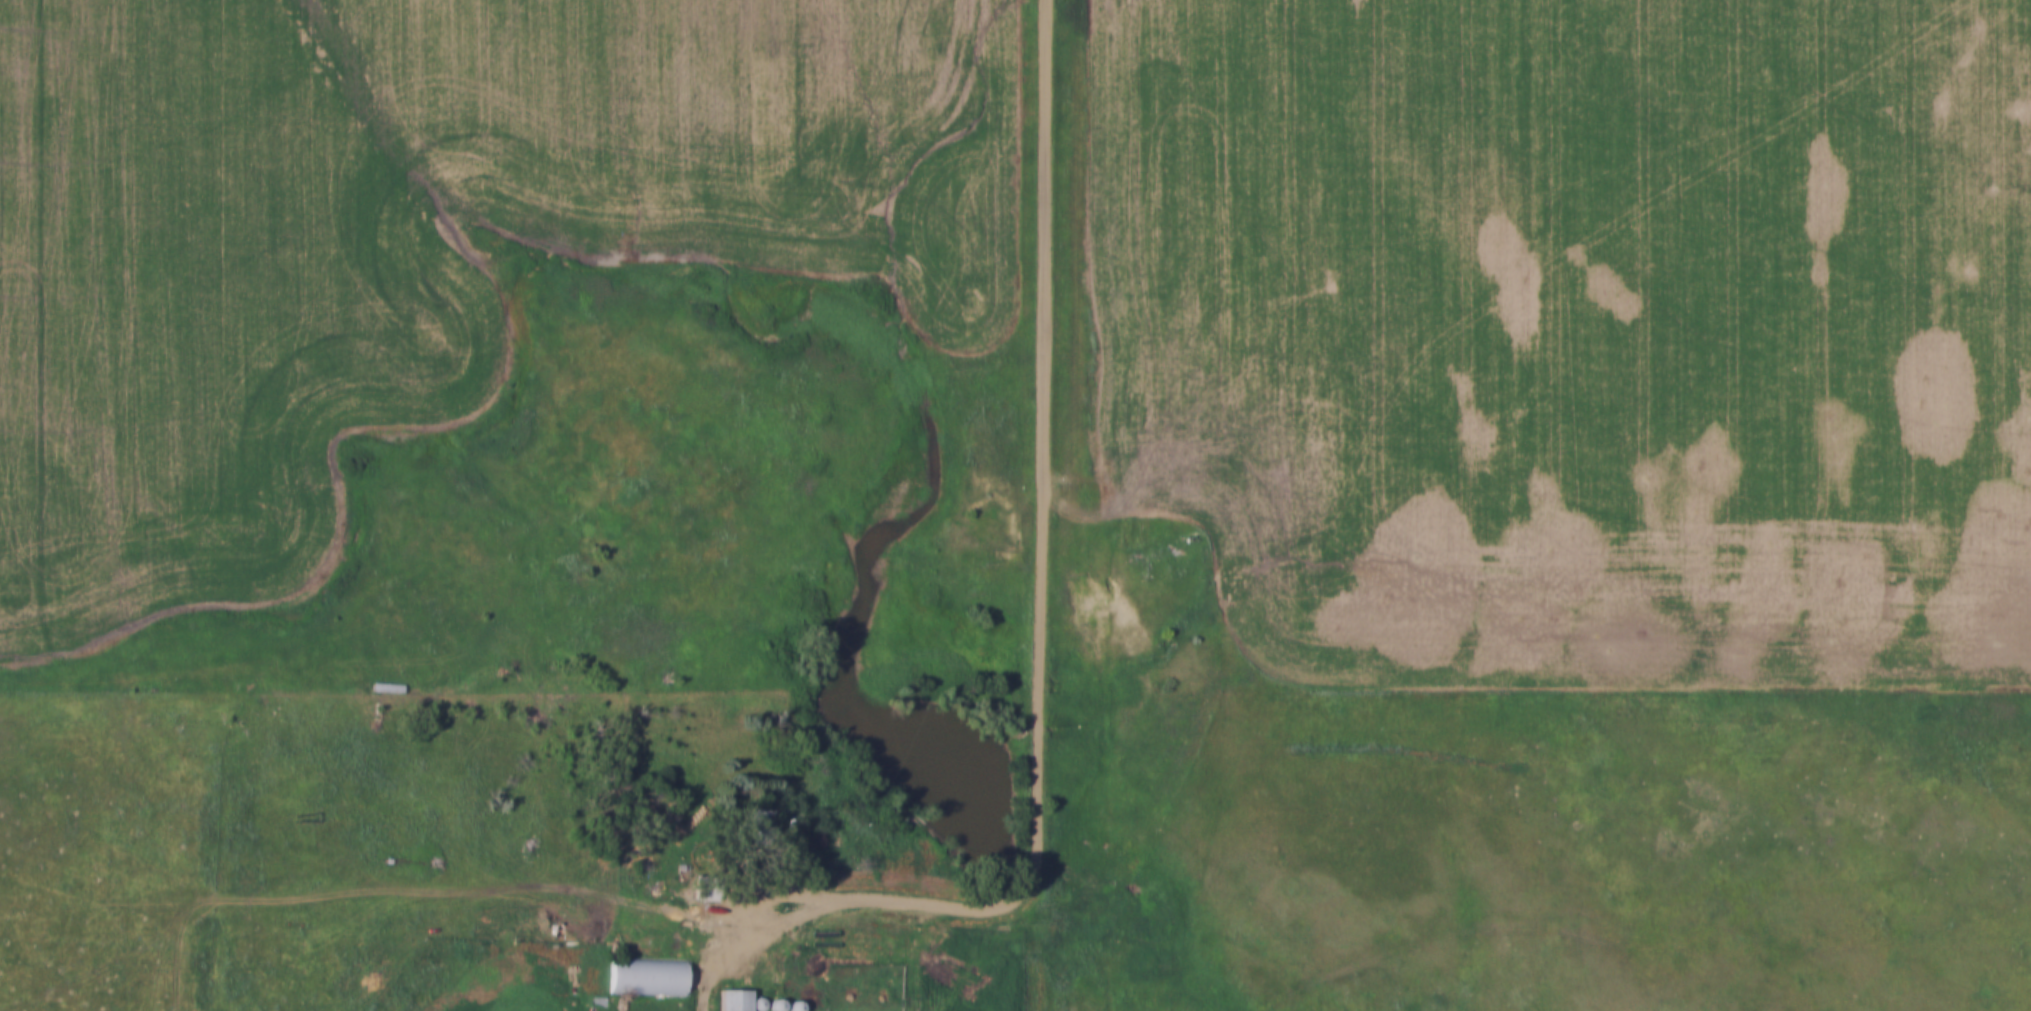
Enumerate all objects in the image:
crop: (1622, 308)
road: (1038, 611)
building: (385, 688)
building: (756, 825)
building: (706, 885)
building: (775, 965)
building: (646, 977)
building: (731, 1000)
building: (756, 1003)
silo: (756, 1003)
building: (772, 1005)
silo: (772, 1005)
building: (791, 1006)
silo: (791, 1006)

